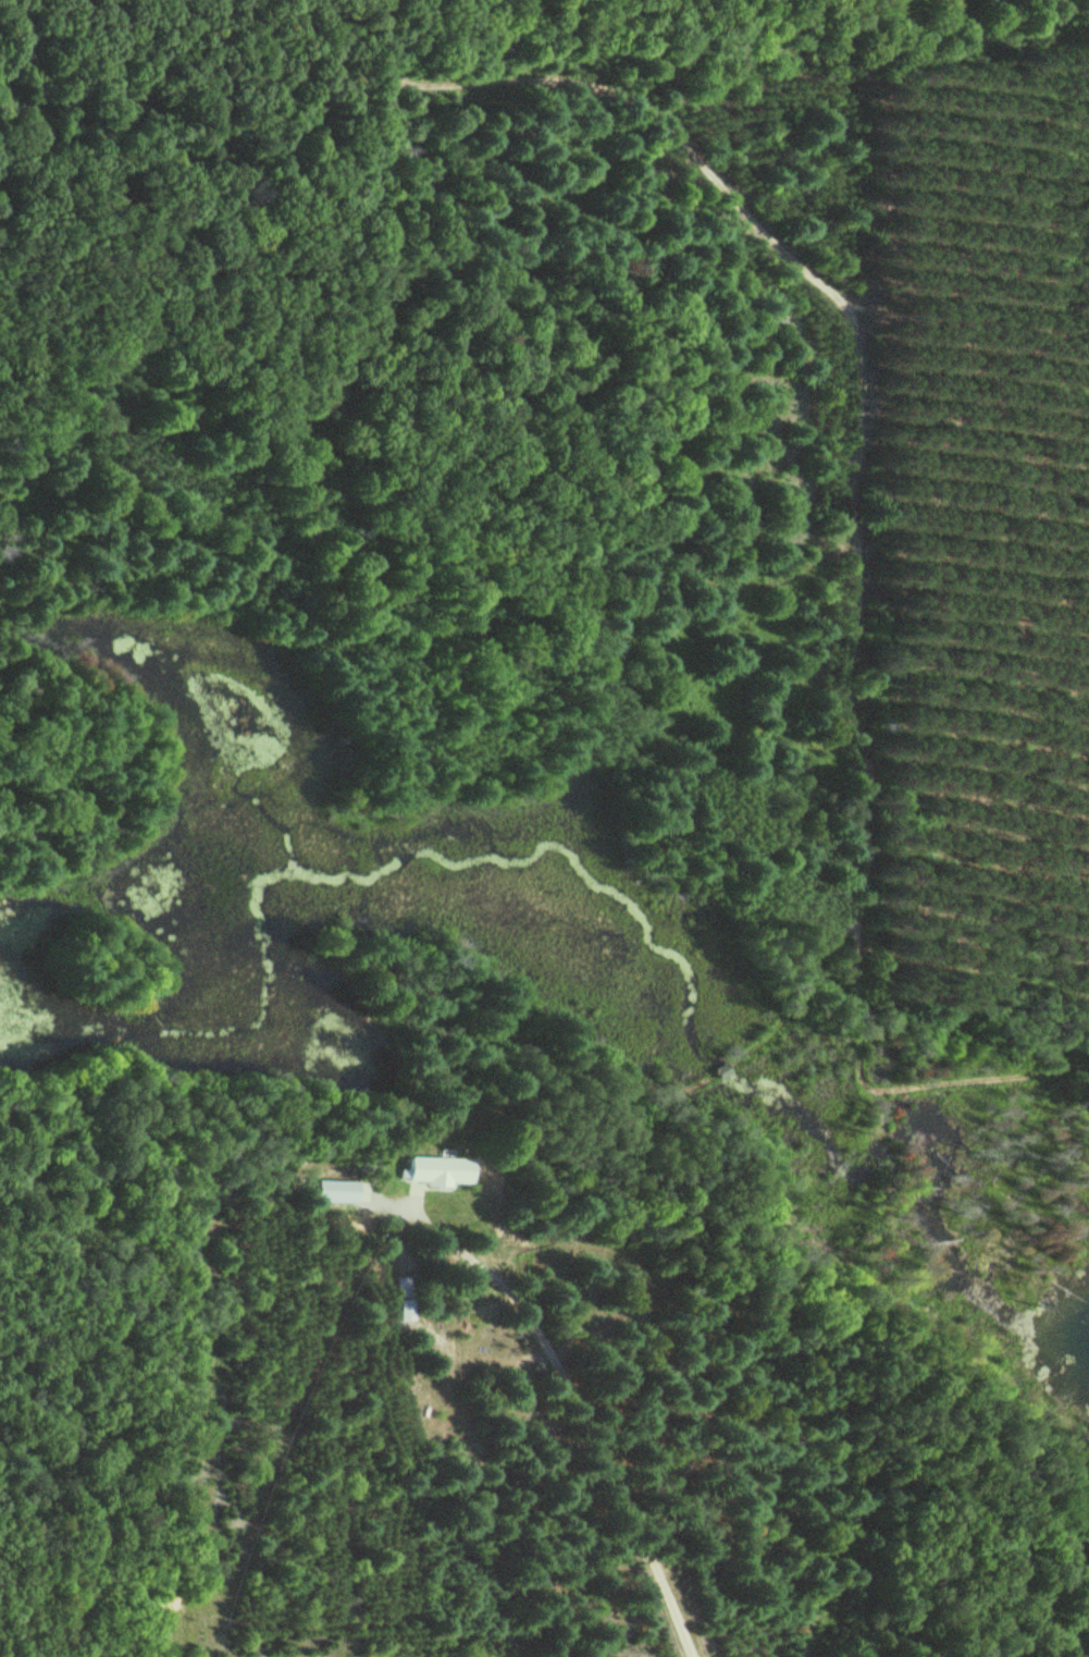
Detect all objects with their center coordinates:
road: (856, 492)
road: (797, 993)
road: (720, 1067)
building: (720, 1069)
building: (366, 1164)
building: (435, 1168)
road: (665, 1193)
building: (331, 1201)
building: (400, 1293)
building: (401, 1320)
road: (569, 1389)
building: (1071, 1526)

